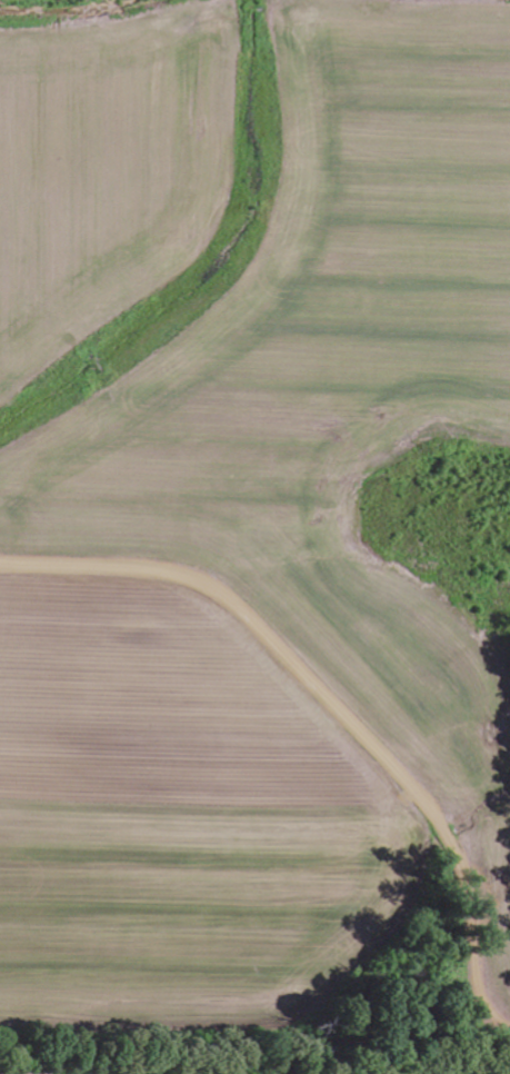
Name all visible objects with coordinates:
road: (332, 706)

